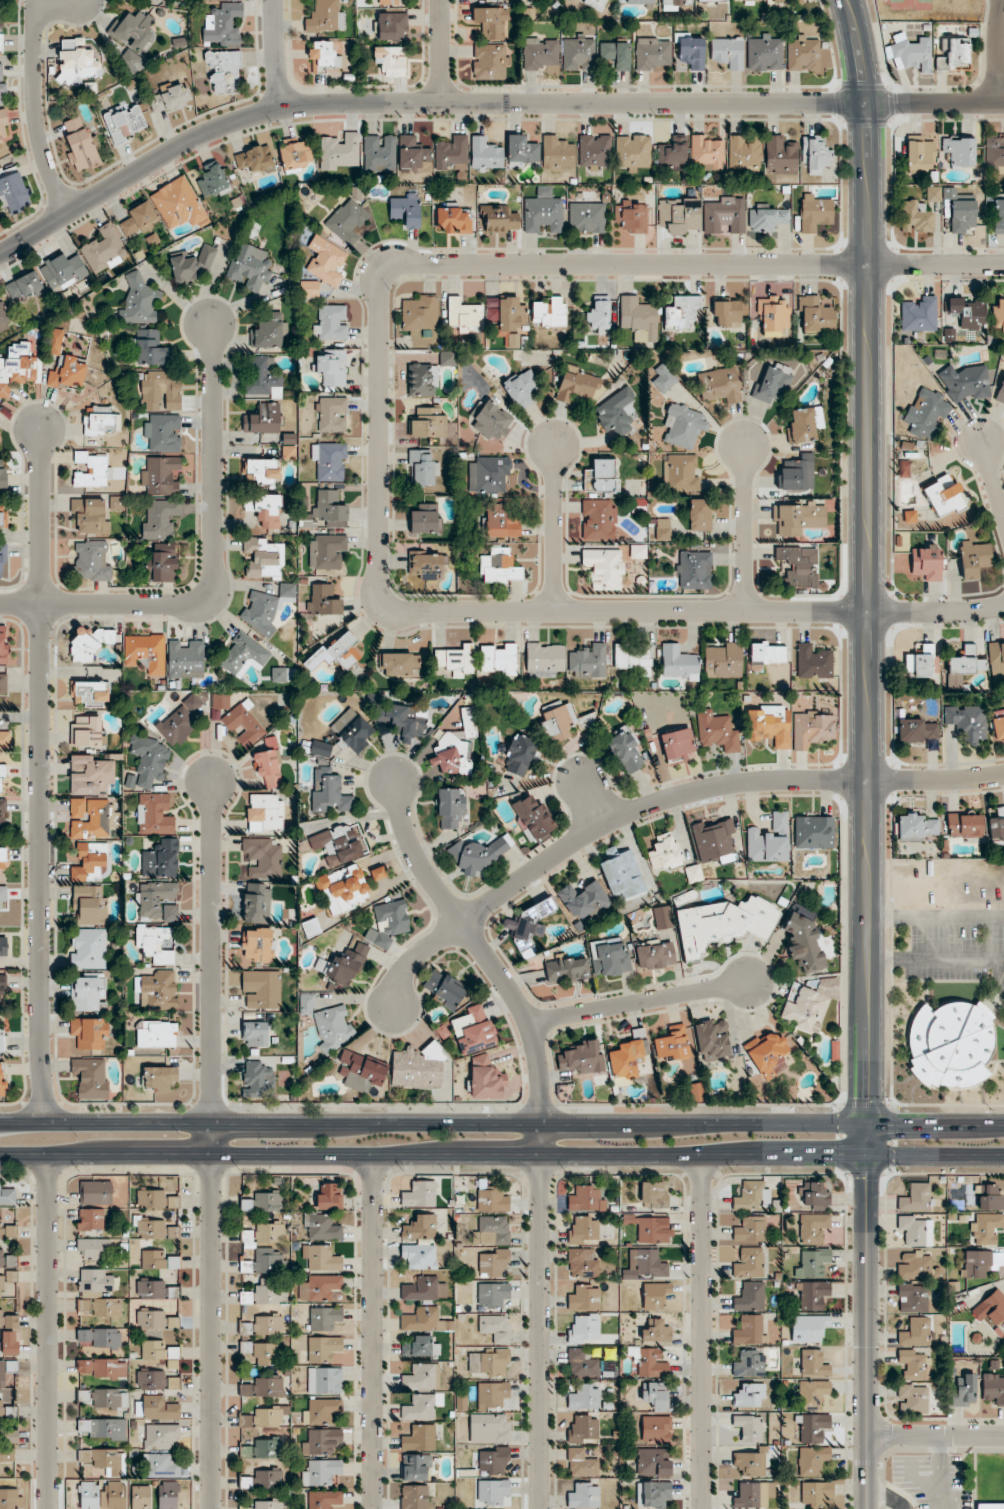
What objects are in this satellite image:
building: (485, 0)
building: (711, 0)
building: (751, 0)
building: (789, 1)
building: (639, 2)
building: (676, 2)
building: (385, 3)
building: (595, 4)
building: (325, 17)
building: (491, 23)
building: (222, 26)
building: (392, 27)
building: (1, 30)
building: (133, 39)
road: (997, 51)
road: (441, 52)
building: (692, 53)
building: (728, 53)
building: (910, 53)
building: (539, 54)
building: (578, 54)
building: (616, 54)
building: (653, 54)
building: (765, 54)
building: (952, 54)
road: (276, 55)
building: (807, 56)
building: (321, 58)
building: (393, 61)
building: (490, 62)
building: (77, 63)
building: (224, 71)
building: (2, 84)
road: (35, 99)
building: (171, 99)
road: (414, 104)
road: (934, 104)
building: (127, 122)
building: (4, 128)
building: (80, 143)
building: (960, 150)
building: (522, 151)
building: (707, 151)
building: (340, 152)
building: (595, 152)
building: (633, 152)
building: (744, 152)
building: (379, 153)
building: (412, 153)
building: (673, 153)
building: (994, 153)
building: (295, 154)
building: (452, 154)
building: (557, 154)
building: (486, 155)
building: (780, 155)
building: (816, 156)
building: (919, 156)
building: (254, 159)
building: (213, 181)
building: (13, 190)
building: (948, 192)
building: (933, 193)
building: (177, 204)
building: (405, 210)
building: (543, 212)
building: (815, 213)
building: (679, 216)
building: (724, 216)
building: (962, 216)
building: (999, 216)
building: (632, 217)
building: (915, 217)
building: (587, 218)
building: (767, 219)
building: (454, 220)
building: (138, 221)
building: (513, 221)
building: (350, 222)
building: (104, 250)
building: (326, 260)
road: (528, 265)
building: (193, 266)
building: (249, 267)
building: (63, 272)
building: (24, 286)
building: (309, 290)
building: (139, 302)
building: (549, 313)
building: (681, 313)
building: (966, 313)
building: (418, 314)
building: (599, 314)
building: (728, 314)
building: (773, 314)
building: (919, 314)
building: (998, 314)
building: (464, 316)
building: (816, 316)
building: (4, 318)
building: (639, 319)
building: (514, 321)
building: (330, 322)
building: (268, 335)
building: (150, 348)
building: (65, 366)
building: (17, 367)
building: (331, 367)
building: (261, 377)
building: (664, 379)
building: (422, 380)
building: (966, 382)
building: (771, 383)
building: (719, 385)
building: (576, 386)
building: (522, 388)
building: (161, 391)
building: (1000, 392)
building: (616, 412)
building: (926, 413)
building: (331, 416)
building: (263, 419)
building: (492, 422)
building: (101, 423)
building: (427, 423)
building: (683, 426)
building: (163, 433)
building: (330, 462)
building: (904, 468)
building: (422, 469)
building: (92, 470)
building: (262, 472)
building: (3, 474)
building: (681, 474)
building: (490, 476)
building: (601, 476)
building: (797, 476)
building: (161, 477)
road: (993, 480)
building: (944, 495)
building: (329, 509)
building: (264, 510)
building: (91, 515)
building: (699, 515)
building: (909, 516)
building: (3, 518)
building: (159, 519)
building: (798, 519)
building: (425, 520)
building: (599, 520)
building: (513, 525)
road: (555, 527)
road: (745, 529)
building: (663, 530)
building: (326, 551)
building: (638, 552)
building: (973, 558)
building: (263, 560)
road: (868, 561)
building: (91, 562)
road: (214, 562)
building: (3, 563)
building: (164, 563)
building: (926, 563)
building: (798, 566)
building: (427, 567)
building: (499, 567)
building: (604, 569)
building: (694, 570)
building: (323, 600)
building: (265, 608)
road: (694, 611)
building: (89, 643)
building: (4, 645)
building: (146, 653)
building: (338, 653)
building: (763, 653)
building: (244, 656)
building: (633, 657)
building: (185, 659)
building: (498, 659)
building: (996, 660)
building: (544, 661)
building: (723, 661)
building: (963, 661)
building: (456, 662)
building: (589, 662)
building: (920, 662)
building: (678, 663)
building: (813, 663)
building: (400, 665)
building: (278, 675)
building: (3, 685)
building: (91, 694)
building: (220, 701)
building: (402, 720)
building: (180, 721)
building: (967, 721)
building: (468, 723)
building: (557, 723)
building: (244, 725)
building: (770, 726)
building: (812, 730)
building: (916, 730)
building: (353, 731)
building: (87, 732)
building: (717, 732)
building: (5, 742)
building: (679, 745)
building: (320, 749)
building: (626, 751)
building: (453, 756)
building: (520, 756)
building: (149, 760)
building: (268, 770)
road: (39, 774)
building: (93, 775)
building: (2, 780)
building: (329, 793)
road: (660, 800)
road: (592, 804)
building: (450, 808)
building: (264, 814)
building: (154, 815)
building: (534, 817)
building: (1, 819)
building: (91, 819)
building: (964, 825)
building: (997, 825)
building: (915, 827)
building: (813, 833)
building: (769, 841)
building: (714, 842)
building: (339, 844)
building: (664, 852)
building: (478, 855)
building: (263, 858)
building: (161, 860)
building: (3, 861)
building: (91, 863)
building: (622, 876)
building: (343, 890)
building: (3, 895)
building: (583, 900)
building: (155, 903)
building: (257, 904)
building: (89, 906)
building: (662, 918)
building: (392, 919)
building: (528, 920)
building: (722, 924)
building: (311, 928)
building: (803, 940)
building: (156, 943)
building: (257, 945)
road: (480, 947)
building: (3, 948)
building: (88, 949)
road: (210, 951)
building: (655, 956)
building: (609, 957)
building: (347, 965)
building: (566, 970)
building: (3, 986)
building: (444, 989)
building: (158, 990)
building: (261, 990)
building: (88, 993)
road: (639, 1002)
building: (804, 1008)
building: (328, 1022)
building: (473, 1031)
building: (90, 1033)
building: (255, 1034)
building: (157, 1035)
building: (712, 1040)
building: (1, 1041)
building: (673, 1044)
building: (950, 1044)
building: (768, 1055)
building: (582, 1059)
building: (625, 1060)
building: (417, 1068)
building: (362, 1071)
building: (91, 1077)
building: (258, 1078)
building: (159, 1079)
building: (3, 1080)
building: (485, 1080)
building: (695, 1092)
traffic signals: (866, 1099)
road: (501, 1123)
traffic signals: (897, 1125)
road: (502, 1156)
traffic signals: (835, 1156)
traffic signals: (866, 1180)
building: (96, 1193)
building: (420, 1195)
building: (654, 1195)
building: (816, 1195)
building: (6, 1196)
building: (749, 1196)
building: (329, 1197)
building: (989, 1197)
building: (915, 1198)
building: (586, 1199)
building: (156, 1200)
building: (492, 1200)
building: (263, 1202)
building: (90, 1220)
building: (150, 1228)
building: (321, 1228)
building: (419, 1228)
building: (985, 1228)
building: (652, 1230)
building: (751, 1230)
building: (815, 1230)
building: (915, 1230)
building: (7, 1231)
building: (491, 1231)
building: (584, 1231)
building: (264, 1234)
building: (93, 1250)
building: (419, 1257)
building: (321, 1259)
building: (7, 1261)
building: (157, 1261)
building: (263, 1262)
building: (749, 1263)
building: (976, 1263)
building: (493, 1264)
building: (583, 1264)
building: (812, 1264)
building: (645, 1265)
building: (915, 1265)
building: (95, 1281)
building: (320, 1288)
building: (152, 1290)
building: (425, 1290)
building: (261, 1295)
building: (812, 1295)
building: (492, 1296)
building: (656, 1296)
building: (912, 1297)
building: (750, 1298)
building: (585, 1299)
building: (990, 1307)
building: (101, 1308)
road: (211, 1315)
road: (541, 1316)
road: (868, 1316)
building: (324, 1318)
building: (8, 1321)
building: (156, 1321)
building: (425, 1321)
building: (263, 1326)
building: (813, 1328)
building: (494, 1329)
building: (583, 1330)
building: (748, 1330)
road: (374, 1331)
road: (701, 1331)
road: (50, 1332)
building: (656, 1332)
building: (917, 1332)
building: (98, 1338)
building: (10, 1344)
building: (420, 1347)
building: (323, 1349)
building: (260, 1353)
building: (173, 1358)
building: (493, 1363)
building: (582, 1364)
building: (652, 1364)
building: (813, 1364)
building: (913, 1364)
building: (749, 1365)
building: (102, 1369)
building: (6, 1371)
building: (422, 1377)
building: (155, 1381)
building: (325, 1381)
building: (263, 1388)
building: (993, 1388)
building: (964, 1389)
building: (492, 1395)
building: (655, 1395)
building: (812, 1395)
building: (749, 1396)
building: (102, 1398)
building: (584, 1398)
building: (912, 1399)
building: (421, 1407)
building: (157, 1409)
building: (7, 1412)
building: (320, 1412)
building: (265, 1417)
building: (812, 1427)
building: (749, 1428)
building: (103, 1429)
building: (489, 1429)
building: (583, 1430)
building: (656, 1430)
road: (936, 1435)
building: (161, 1437)
building: (419, 1439)
building: (320, 1441)
building: (262, 1449)
building: (7, 1457)
building: (103, 1461)
building: (493, 1461)
building: (812, 1461)
building: (653, 1463)
building: (582, 1464)
building: (749, 1464)
building: (161, 1466)
building: (416, 1468)
building: (322, 1473)
building: (263, 1480)
building: (492, 1493)
building: (653, 1494)
building: (816, 1494)
building: (88, 1495)
building: (168, 1495)
road: (888, 1495)
building: (752, 1496)
building: (415, 1497)
building: (584, 1497)
building: (11, 1499)
building: (324, 1500)
building: (267, 1505)
building: (989, 1506)

